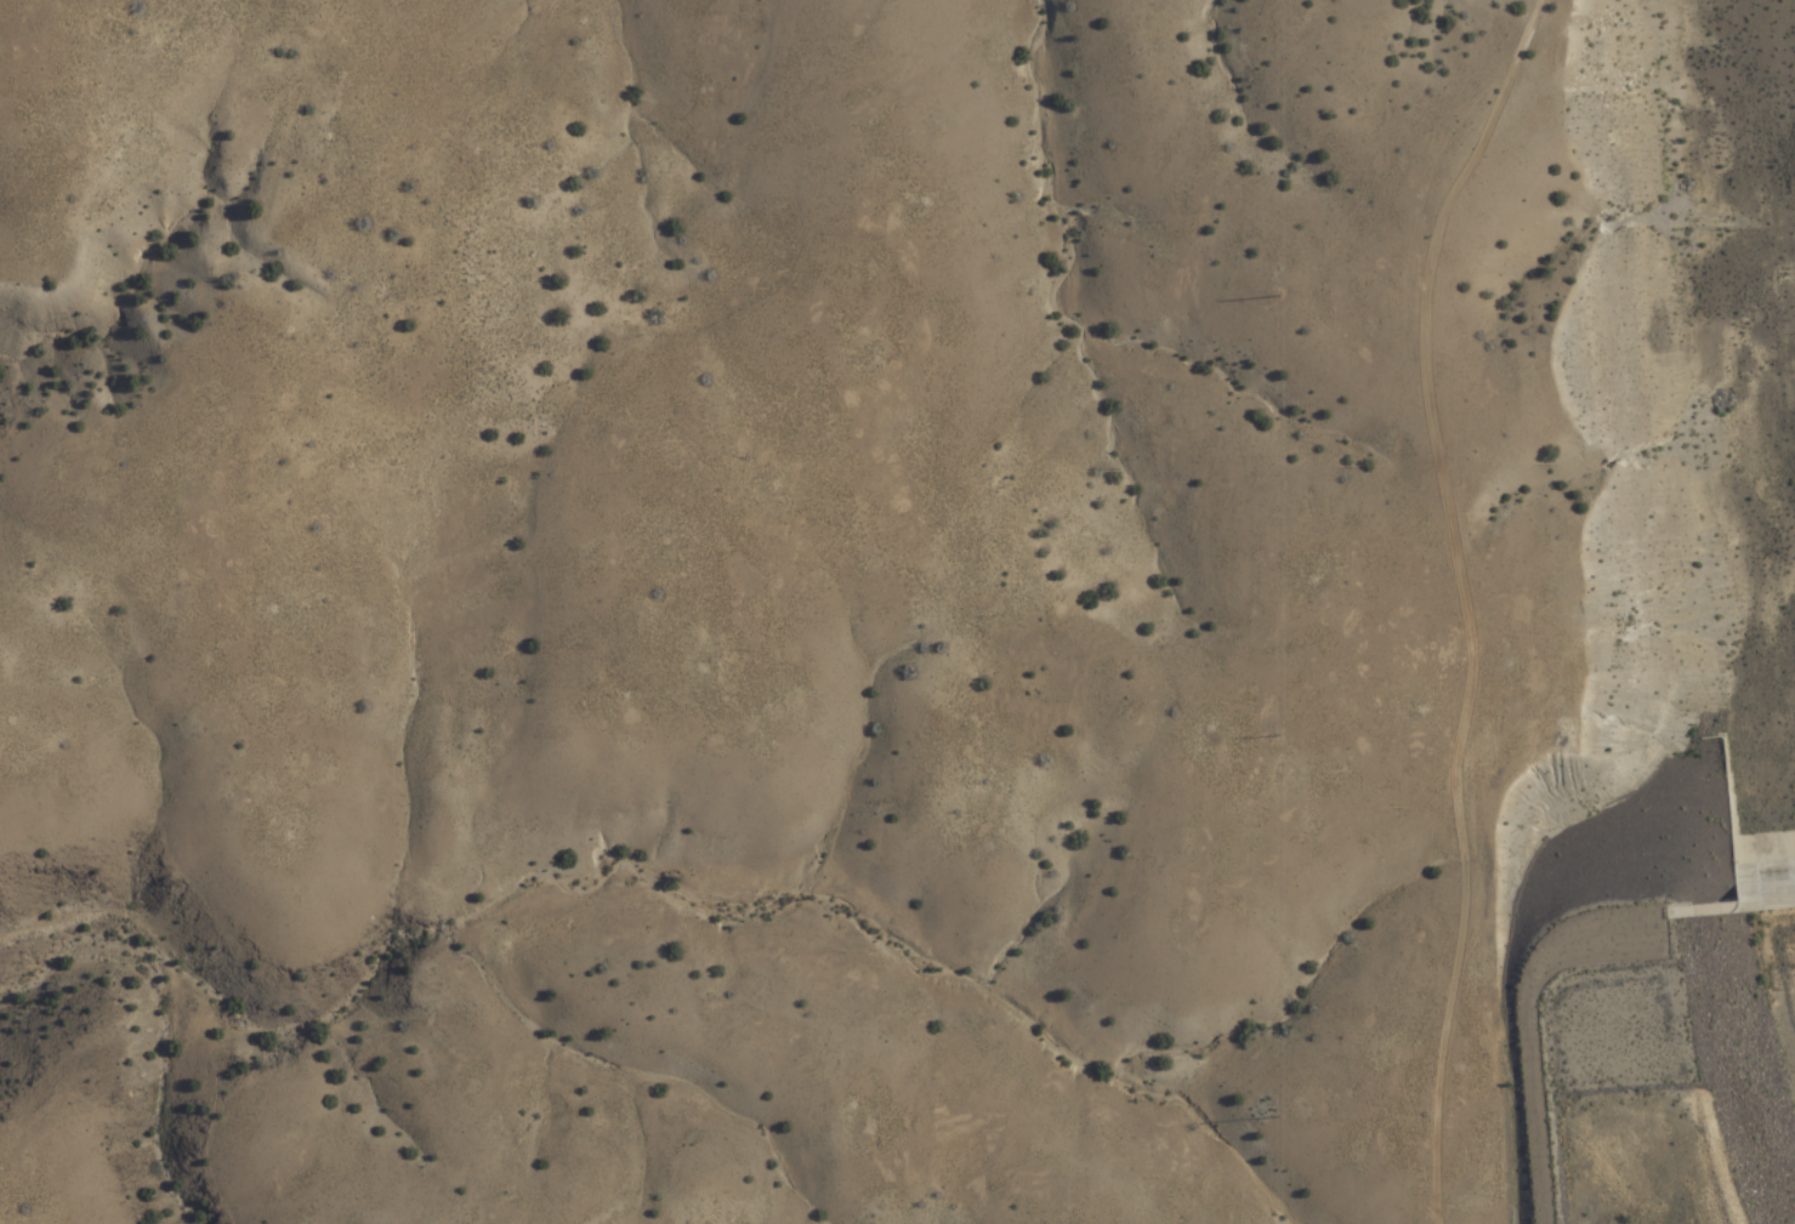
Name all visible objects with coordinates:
dam: (1651, 980)
road: (1538, 1027)

